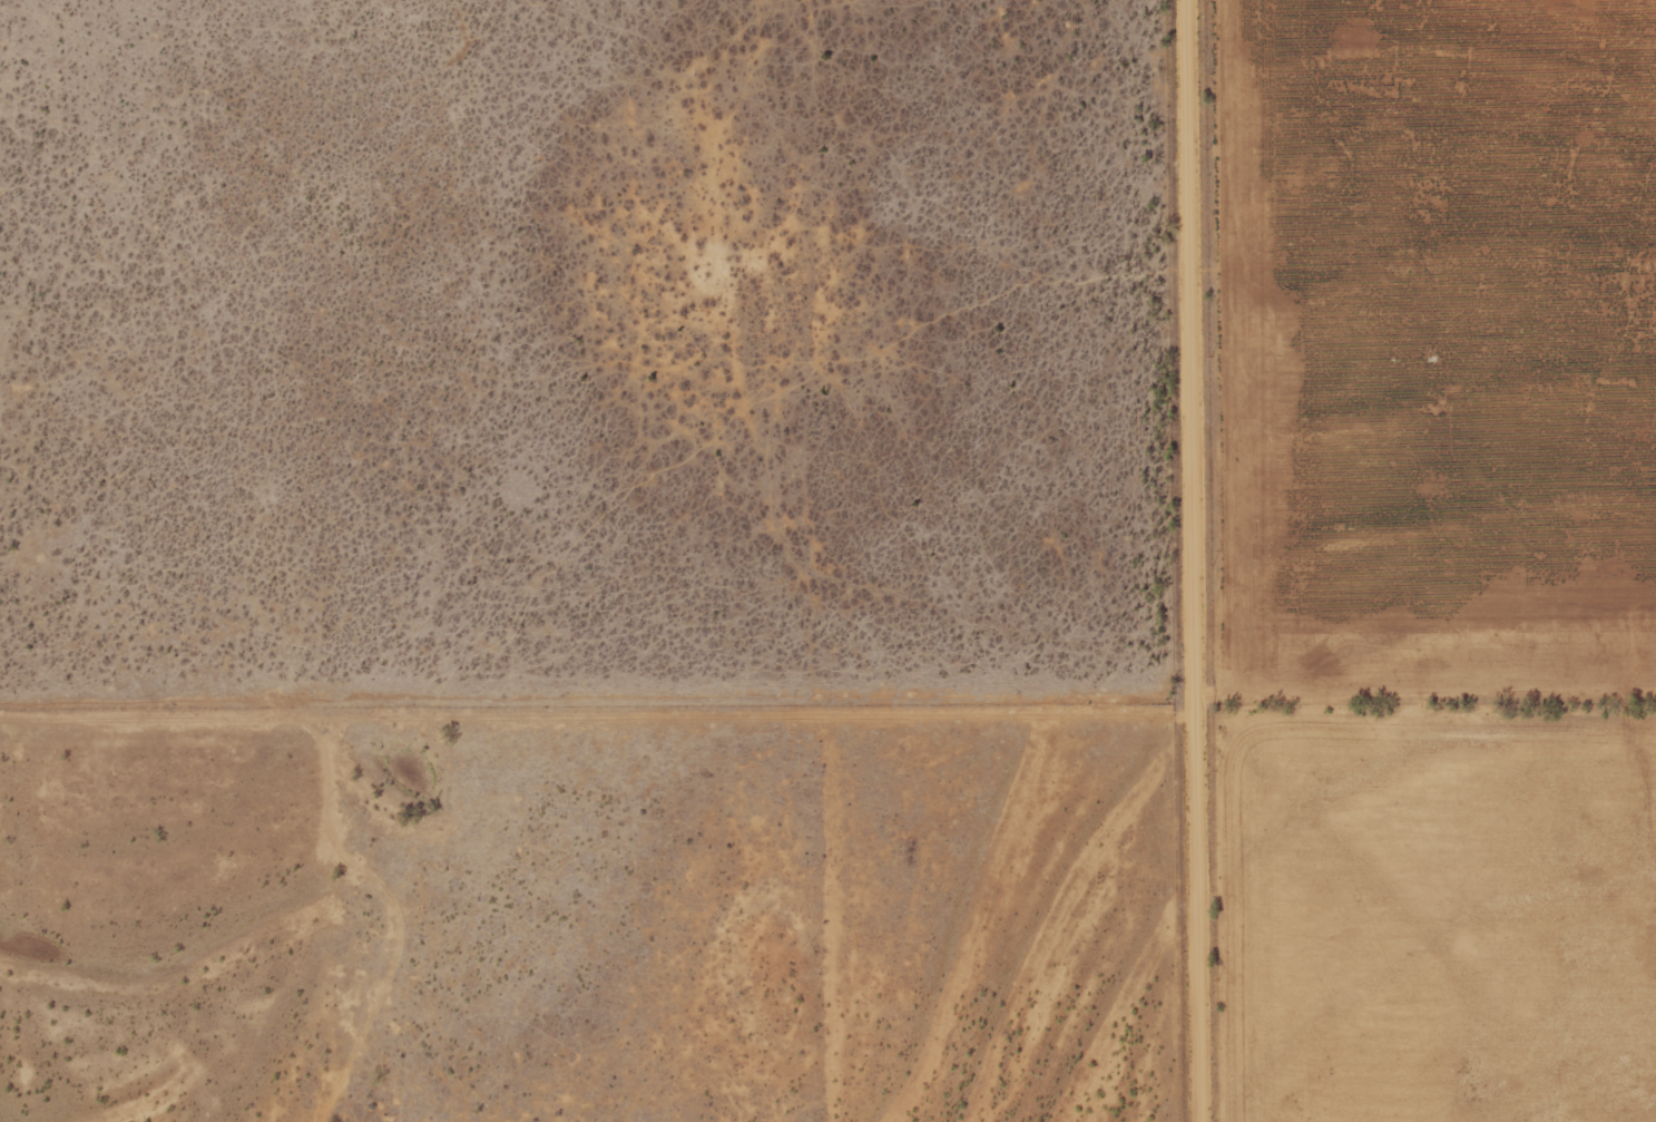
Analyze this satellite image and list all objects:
road: (1194, 560)

